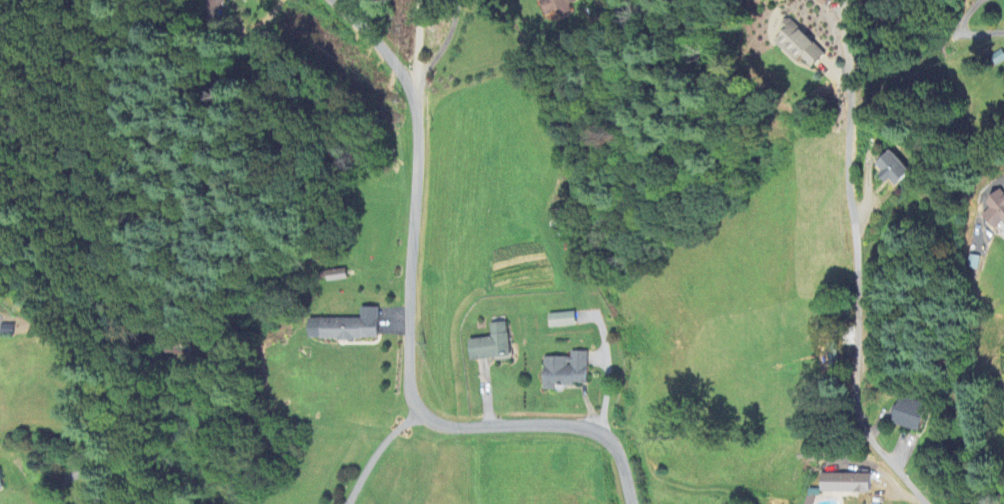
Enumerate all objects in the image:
building: (558, 6)
road: (984, 32)
road: (417, 41)
road: (443, 44)
building: (801, 45)
building: (897, 170)
road: (979, 202)
building: (996, 211)
building: (560, 223)
building: (332, 276)
road: (412, 291)
road: (857, 295)
building: (565, 320)
building: (349, 327)
building: (494, 344)
building: (188, 348)
building: (568, 371)
building: (914, 416)
road: (376, 454)
road: (620, 474)
building: (1, 481)
building: (848, 483)

